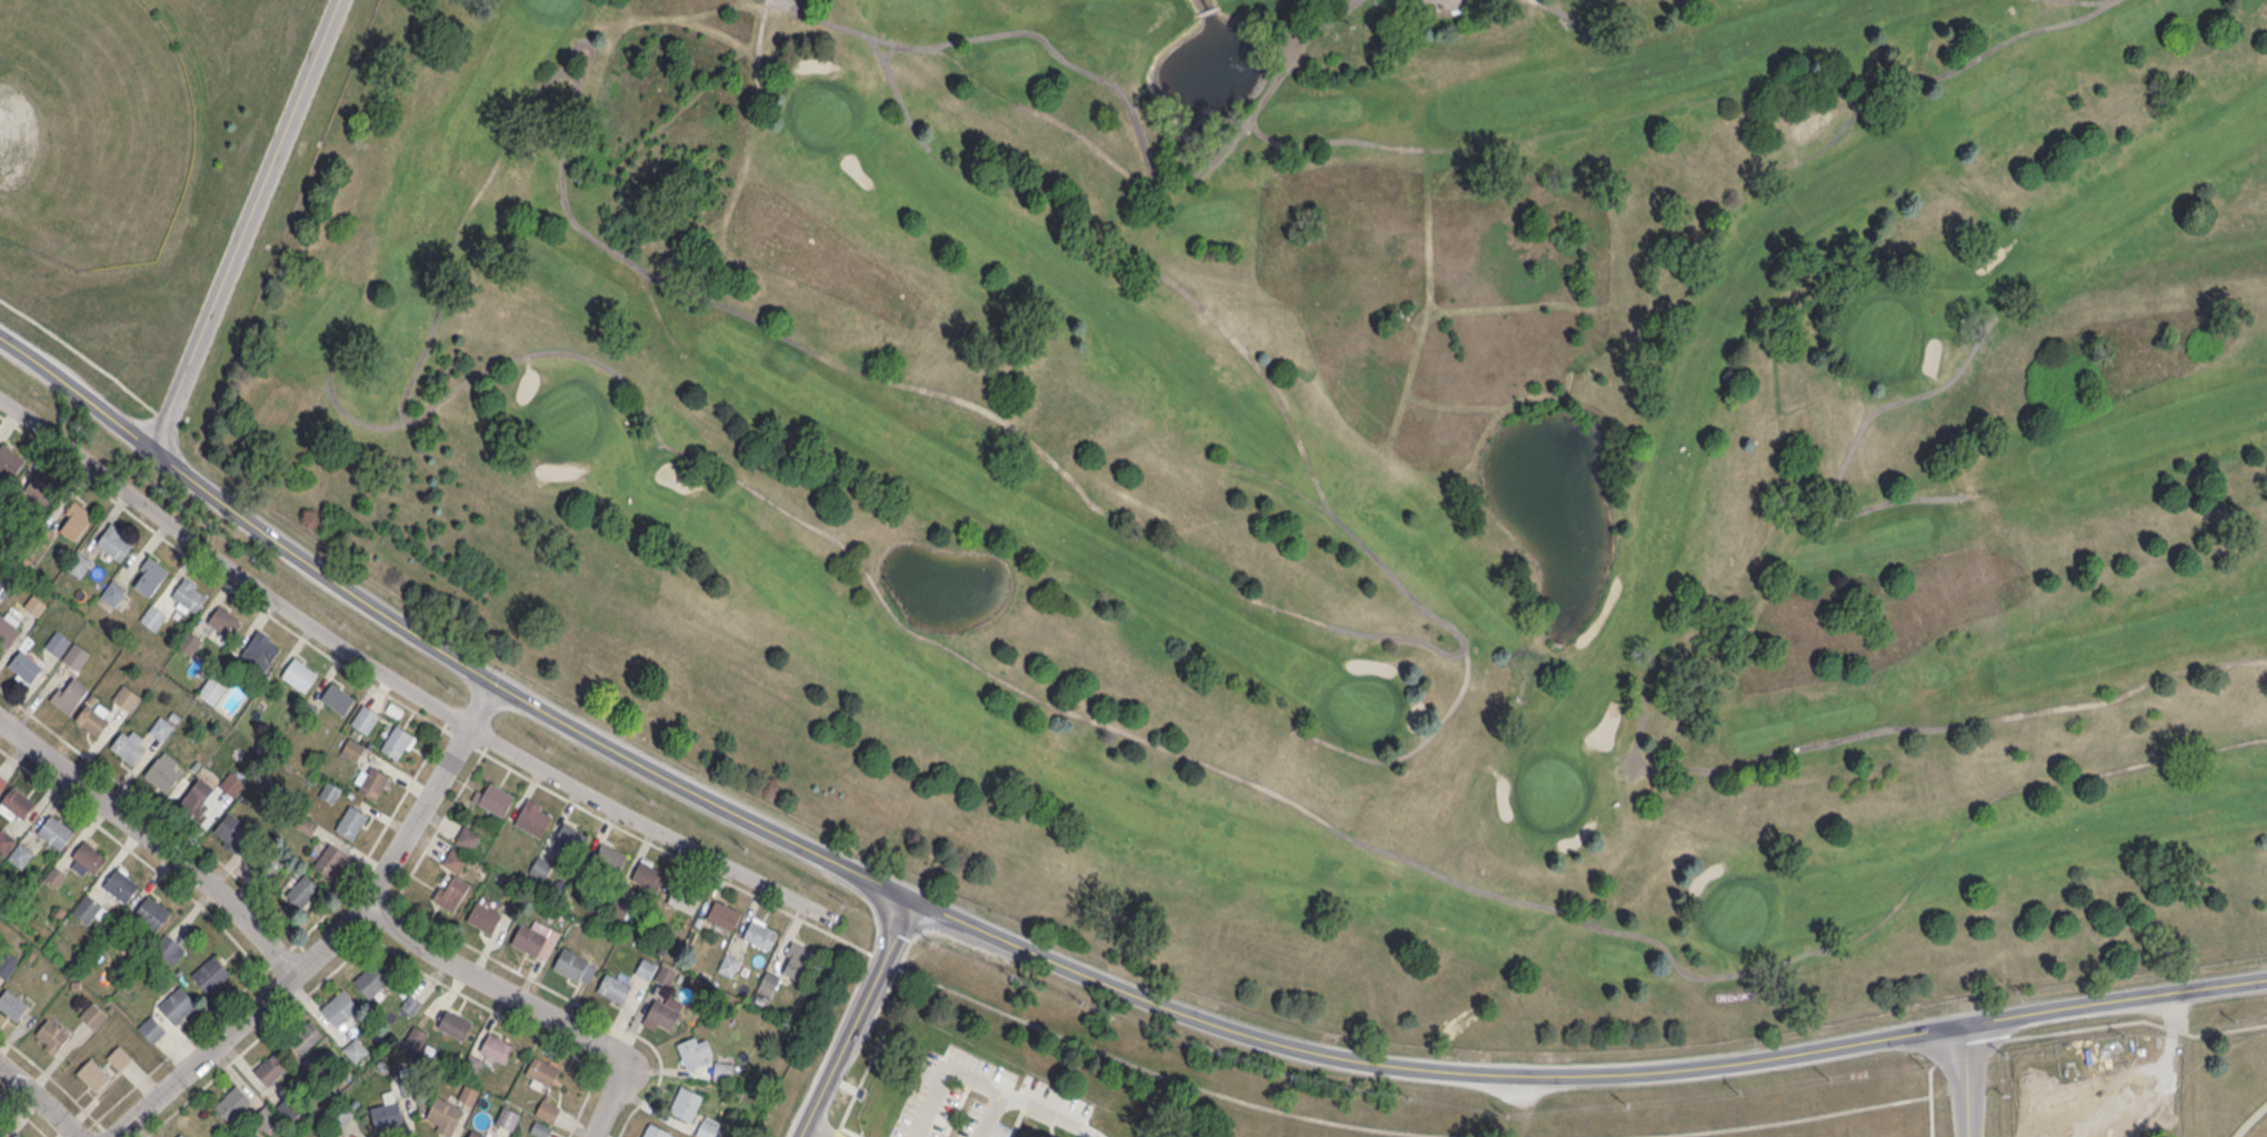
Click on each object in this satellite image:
building: (761, 1)
park: (89, 129)
road: (252, 225)
road: (79, 352)
road: (162, 418)
building: (9, 461)
park: (1352, 467)
building: (41, 488)
building: (74, 520)
building: (116, 541)
building: (78, 563)
road: (233, 566)
building: (149, 576)
building: (113, 592)
building: (188, 596)
building: (34, 605)
building: (153, 617)
building: (224, 621)
building: (8, 627)
building: (189, 641)
building: (58, 642)
building: (261, 649)
building: (76, 656)
building: (24, 666)
building: (299, 674)
building: (69, 692)
road: (9, 695)
building: (127, 697)
building: (338, 698)
road: (487, 705)
building: (93, 716)
building: (364, 718)
road: (427, 718)
building: (163, 726)
building: (398, 741)
building: (129, 745)
building: (352, 749)
road: (10, 756)
building: (164, 770)
building: (370, 781)
building: (231, 784)
building: (330, 790)
building: (199, 796)
building: (16, 804)
building: (533, 817)
building: (351, 821)
road: (652, 824)
building: (56, 831)
building: (231, 831)
road: (159, 835)
building: (467, 838)
building: (572, 839)
building: (4, 840)
building: (20, 855)
building: (610, 856)
building: (87, 858)
building: (455, 859)
building: (332, 860)
building: (268, 861)
building: (541, 867)
building: (648, 875)
building: (121, 884)
building: (451, 890)
building: (302, 891)
building: (685, 897)
building: (88, 908)
building: (151, 911)
building: (722, 914)
building: (483, 916)
building: (760, 932)
building: (536, 938)
building: (169, 947)
road: (320, 953)
road: (1058, 959)
building: (797, 960)
building: (571, 963)
building: (8, 964)
building: (728, 965)
building: (211, 973)
building: (371, 979)
building: (768, 983)
building: (613, 987)
building: (12, 1004)
building: (177, 1004)
road: (531, 1006)
building: (339, 1007)
building: (663, 1011)
building: (93, 1015)
road: (861, 1017)
road: (2121, 1021)
building: (455, 1024)
building: (151, 1028)
building: (52, 1034)
building: (306, 1036)
building: (416, 1037)
road: (10, 1044)
building: (497, 1047)
building: (356, 1049)
building: (695, 1051)
road: (873, 1055)
building: (119, 1057)
building: (271, 1068)
building: (542, 1070)
building: (722, 1070)
road: (965, 1073)
building: (93, 1074)
road: (1167, 1075)
road: (1930, 1075)
road: (1976, 1079)
park: (2137, 1080)
parking lot: (1018, 1089)
building: (468, 1094)
road: (44, 1097)
road: (11, 1101)
building: (232, 1103)
building: (686, 1103)
road: (957, 1106)
building: (288, 1108)
building: (548, 1109)
building: (387, 1111)
road: (1052, 1113)
building: (443, 1115)
building: (0, 1117)
building: (267, 1117)
building: (508, 1117)
road: (1775, 1121)
building: (709, 1127)
park: (2256, 1127)
road: (822, 1129)
building: (657, 1131)
road: (850, 1131)
building: (476, 1134)
building: (17, 1135)
building: (181, 1135)
building: (338, 1136)
building: (1043, 1136)

